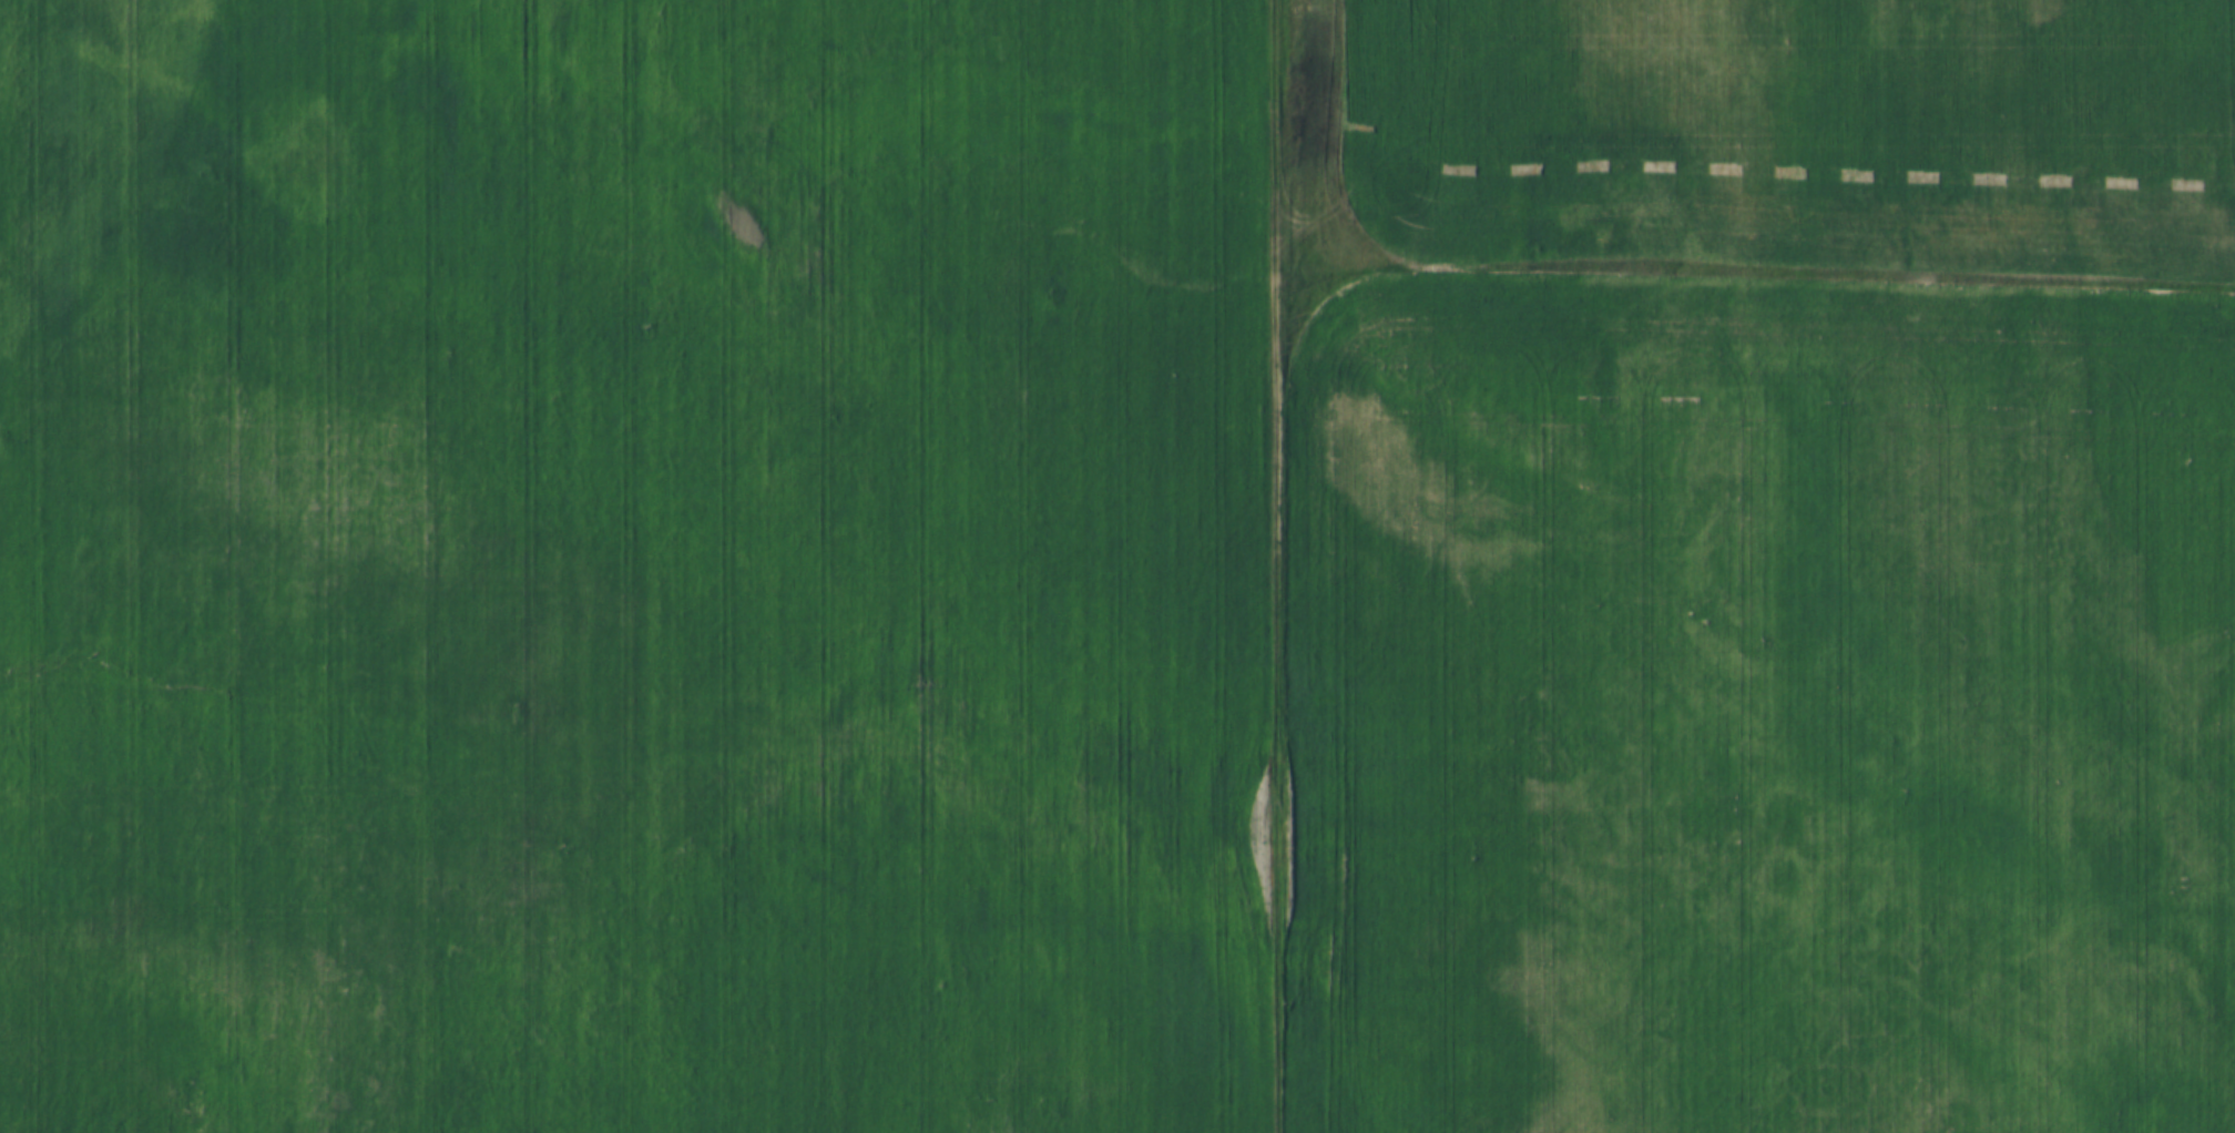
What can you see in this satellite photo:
road: (1277, 565)

